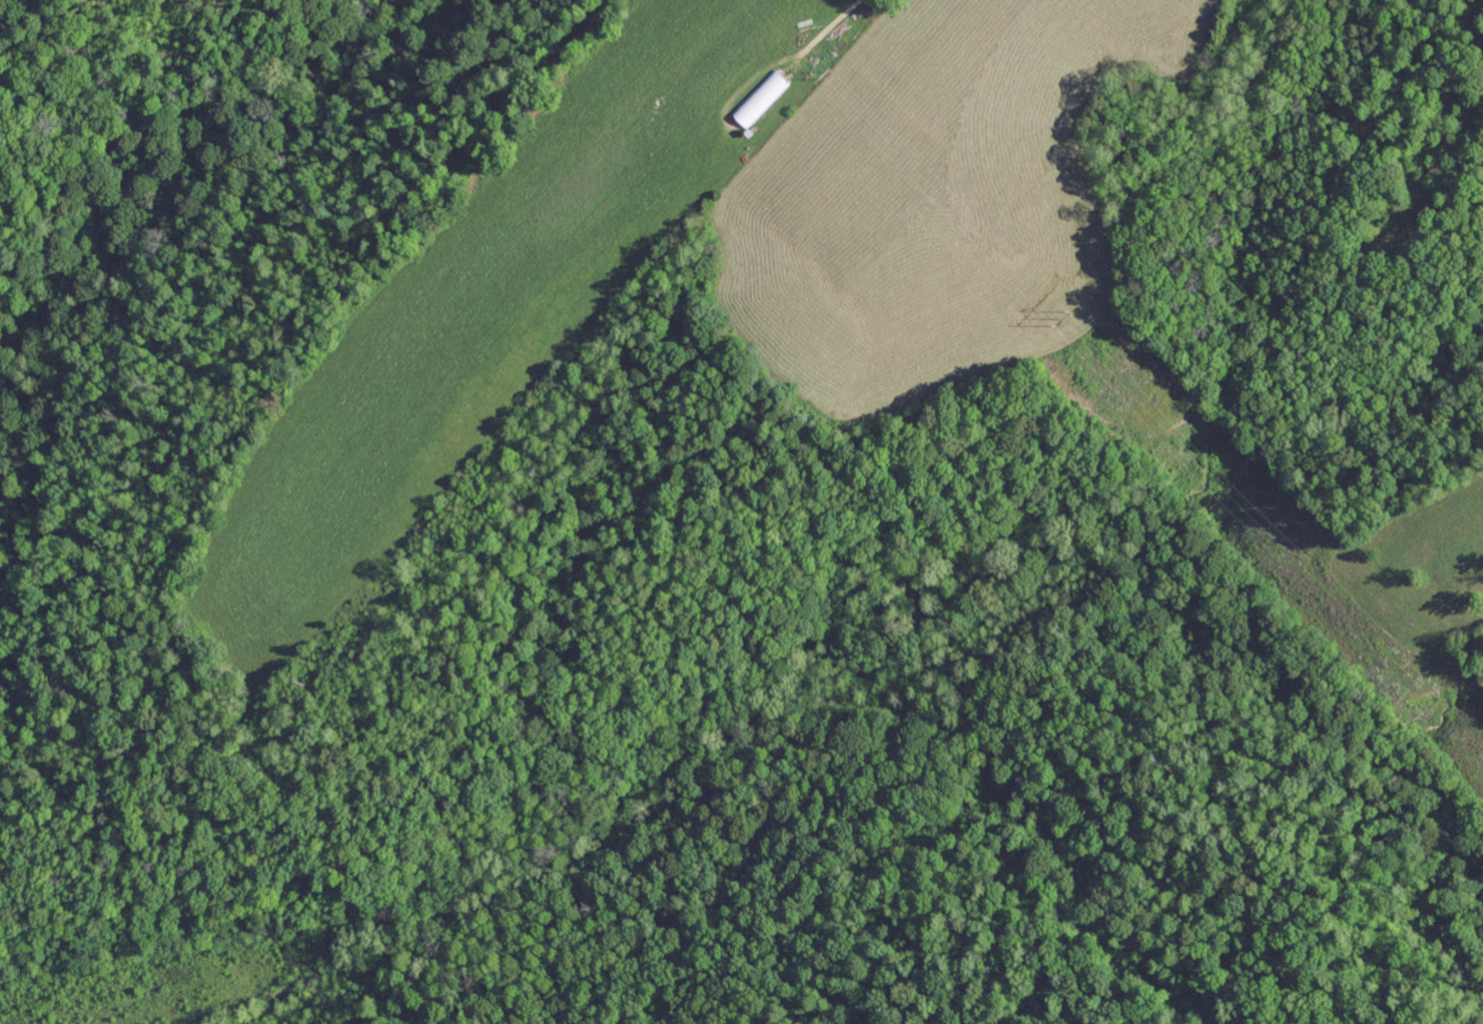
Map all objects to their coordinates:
power tower: (825, 74)
building: (765, 99)
power tower: (1065, 320)

